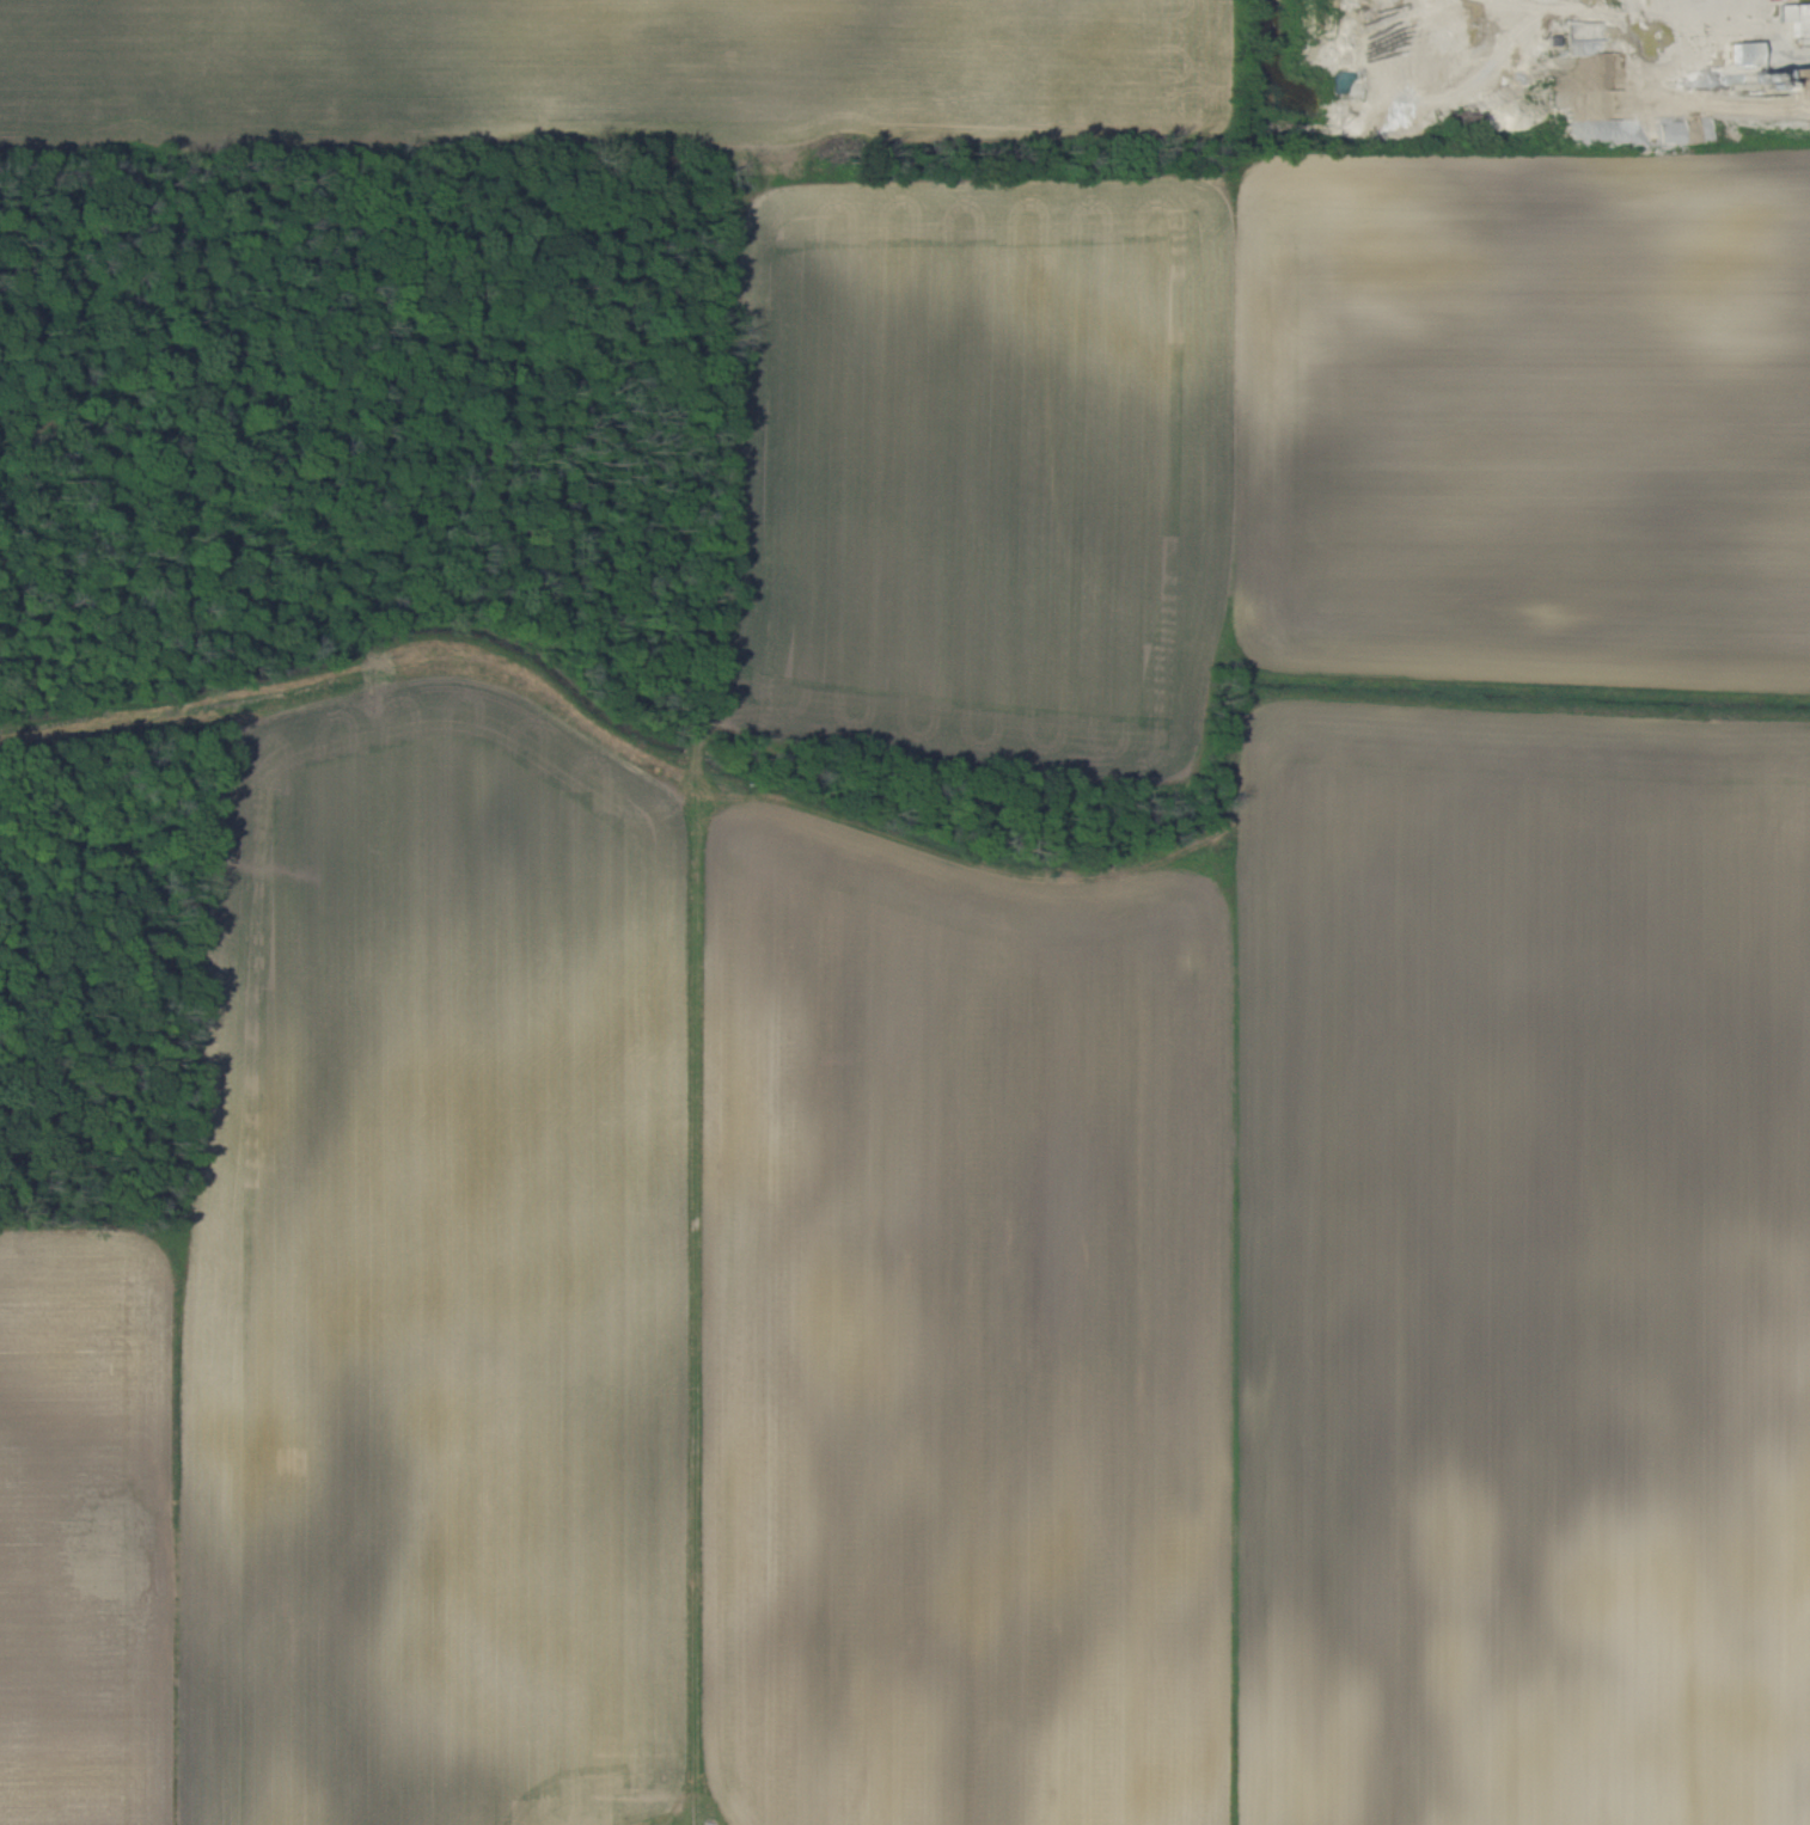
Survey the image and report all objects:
road: (1763, 7)
road: (1759, 17)
building: (1797, 20)
road: (1693, 38)
building: (1747, 54)

